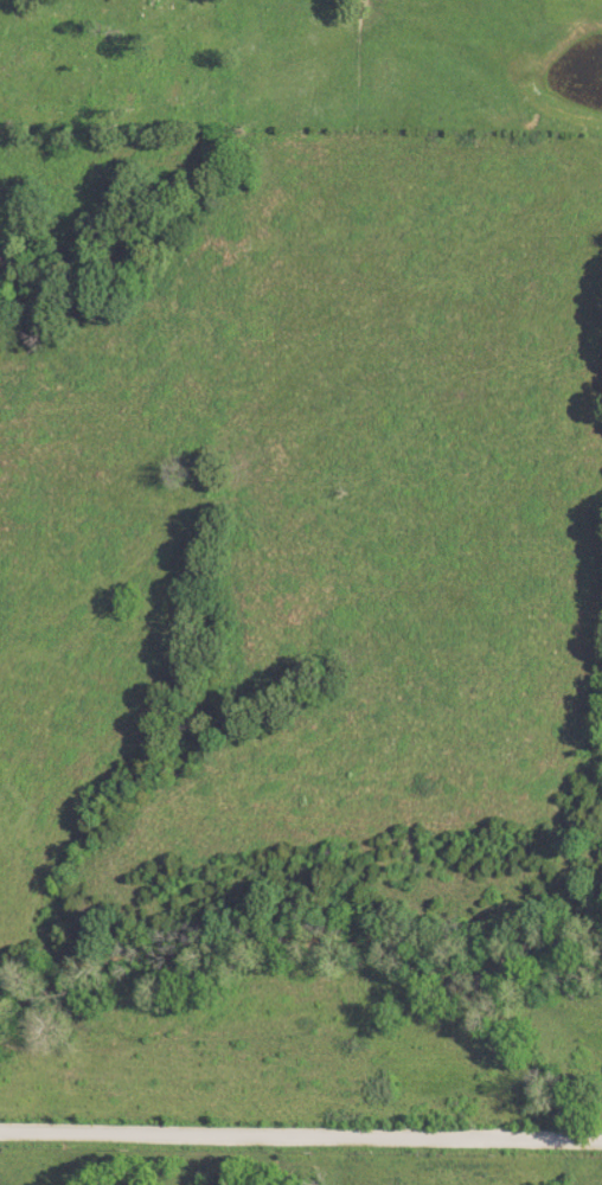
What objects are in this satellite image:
road: (301, 1133)

